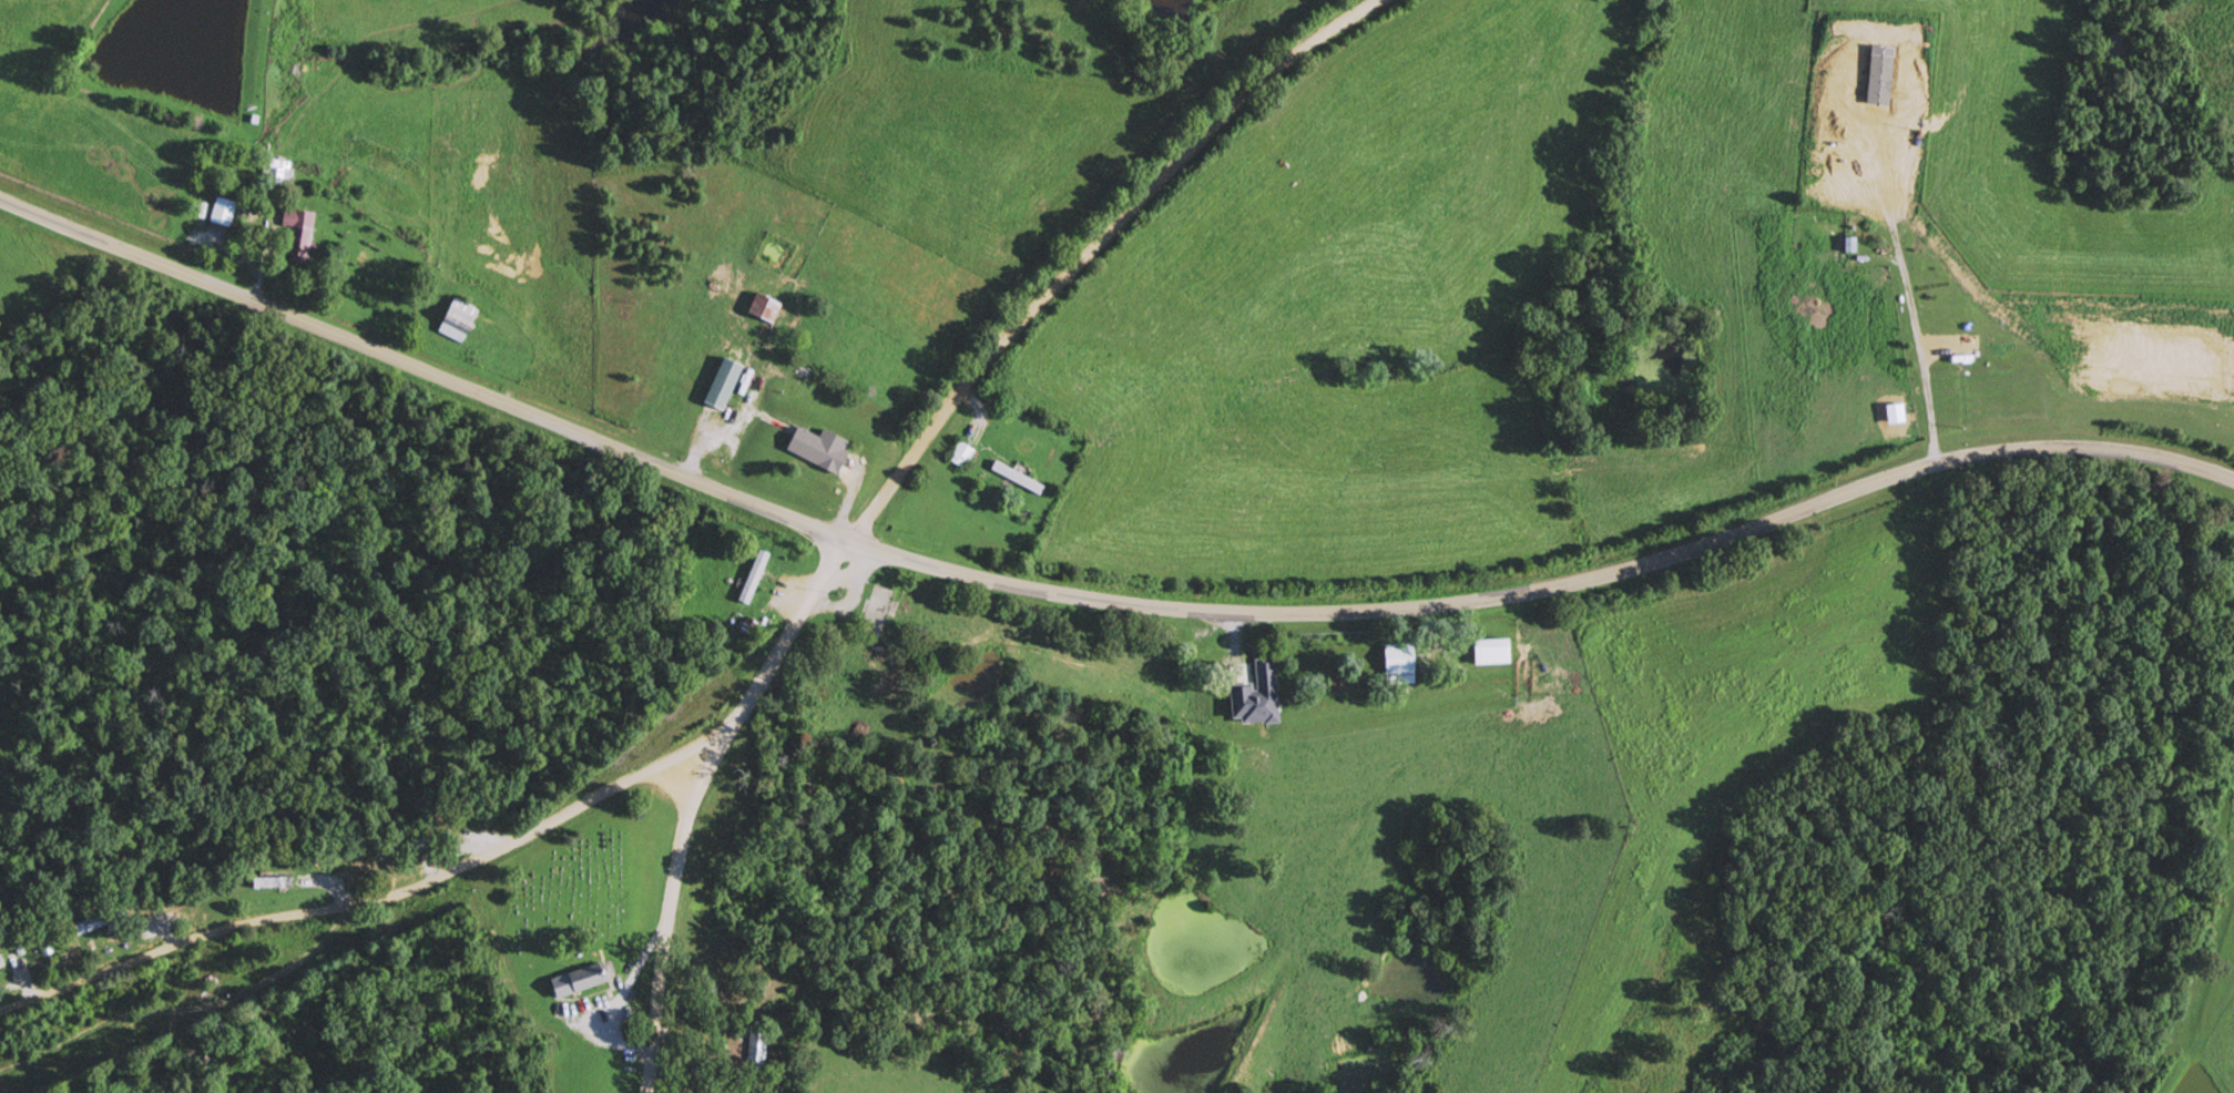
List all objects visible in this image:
building: (224, 211)
building: (300, 231)
road: (1094, 249)
building: (765, 306)
building: (725, 381)
building: (817, 446)
building: (961, 453)
building: (755, 575)
road: (1093, 603)
building: (1497, 650)
building: (1402, 662)
building: (1268, 683)
road: (691, 794)
building: (274, 881)
road: (356, 906)
building: (94, 921)
building: (1, 959)
building: (581, 979)
building: (755, 1048)

